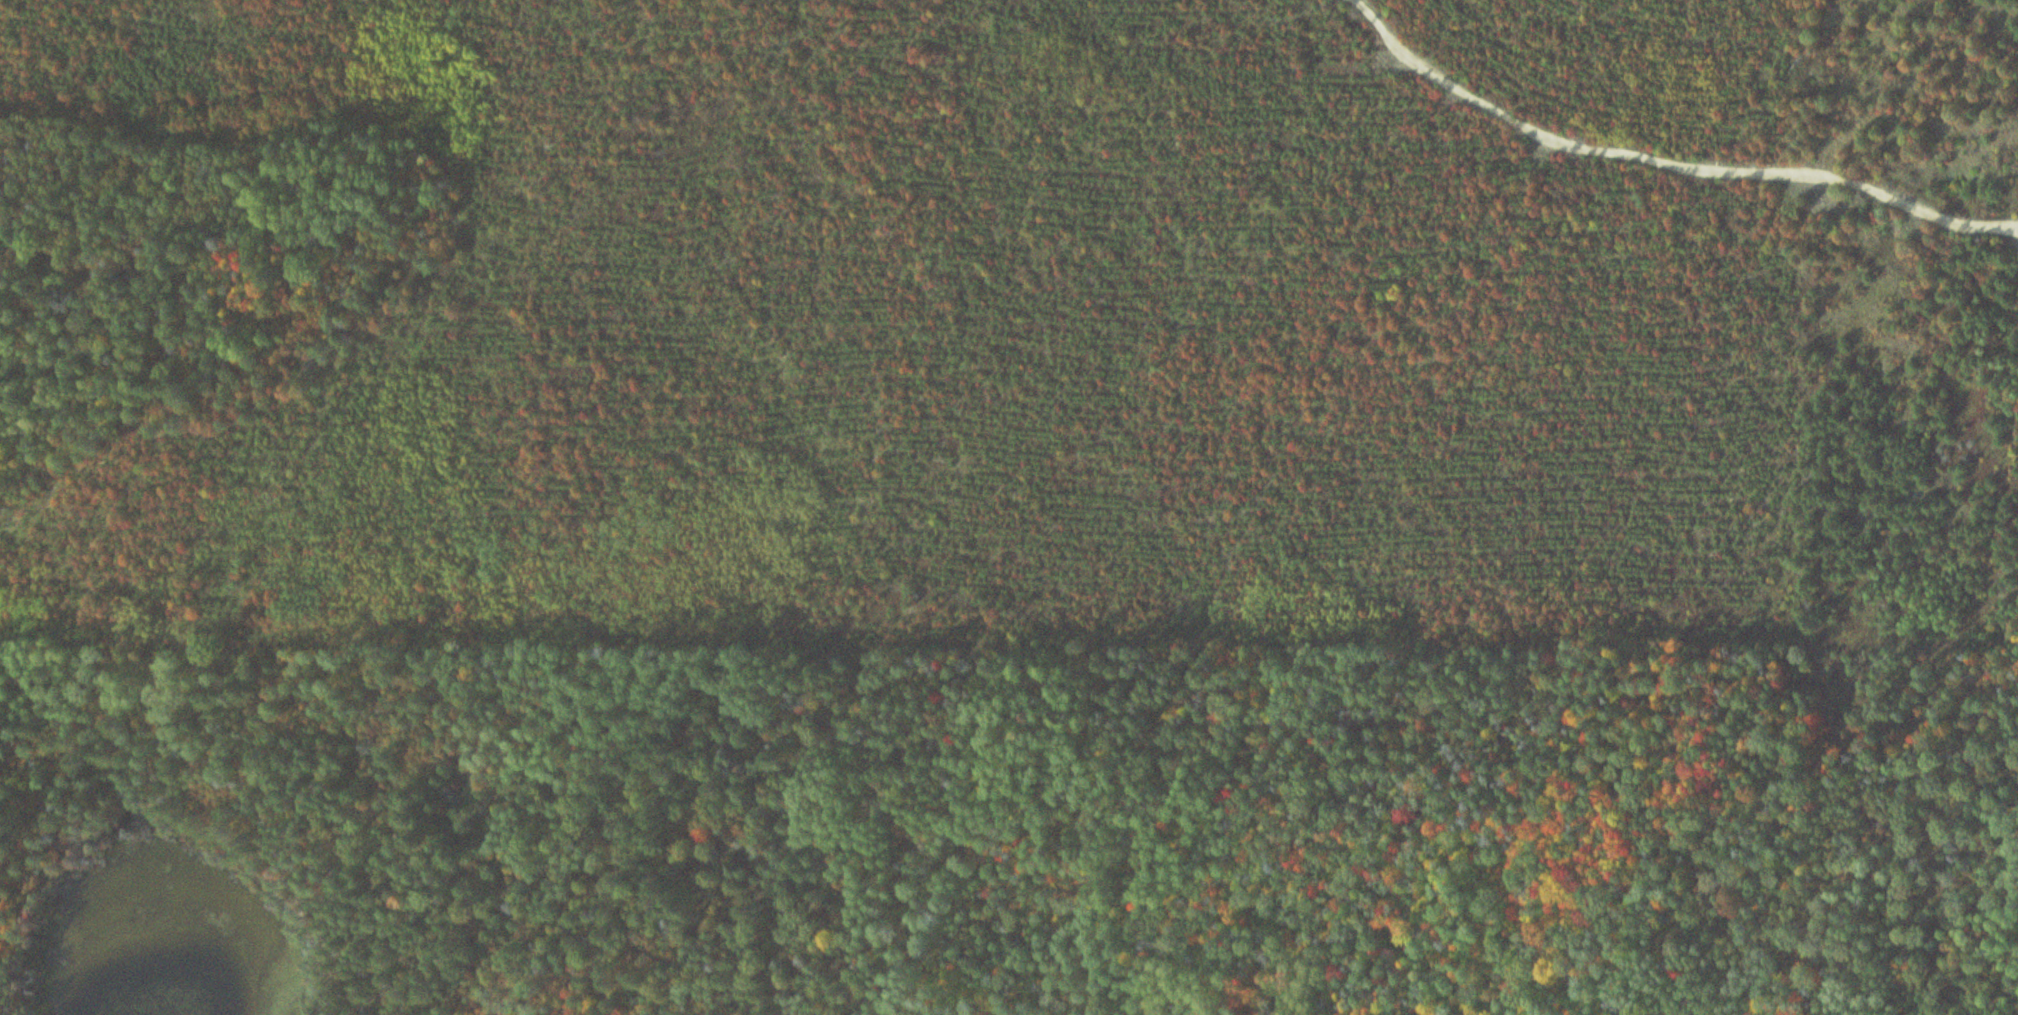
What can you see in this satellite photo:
road: (1661, 157)

